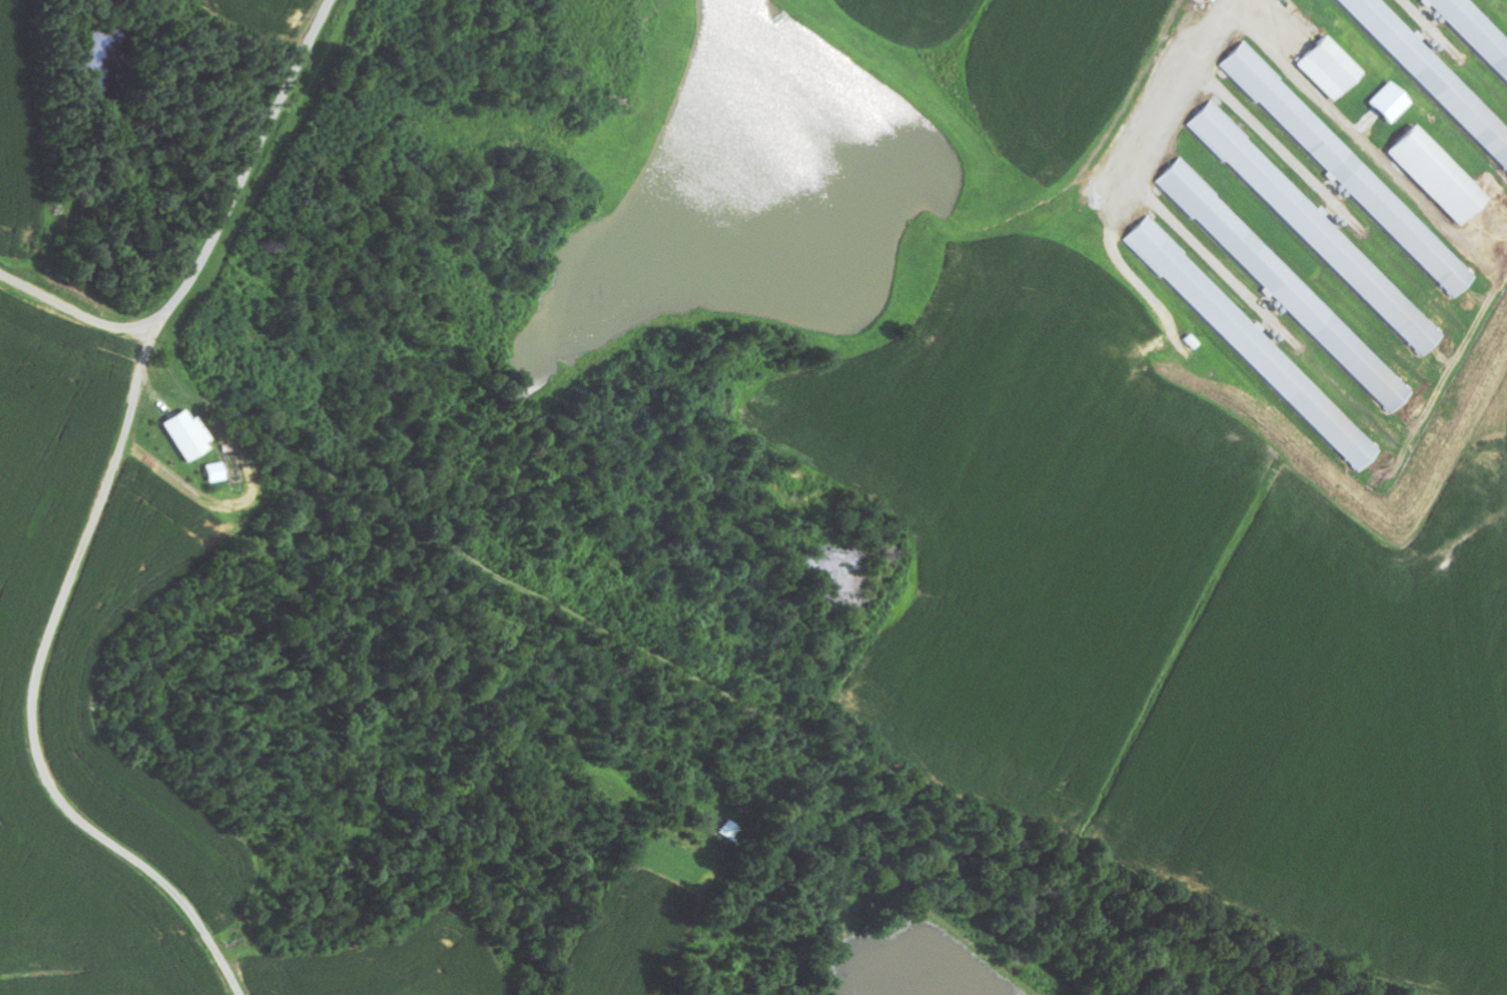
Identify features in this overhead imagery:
building: (1475, 32)
building: (1327, 68)
building: (1432, 75)
building: (1347, 170)
building: (1433, 175)
building: (1313, 227)
road: (217, 240)
building: (1284, 286)
building: (1252, 344)
building: (185, 435)
building: (213, 473)

